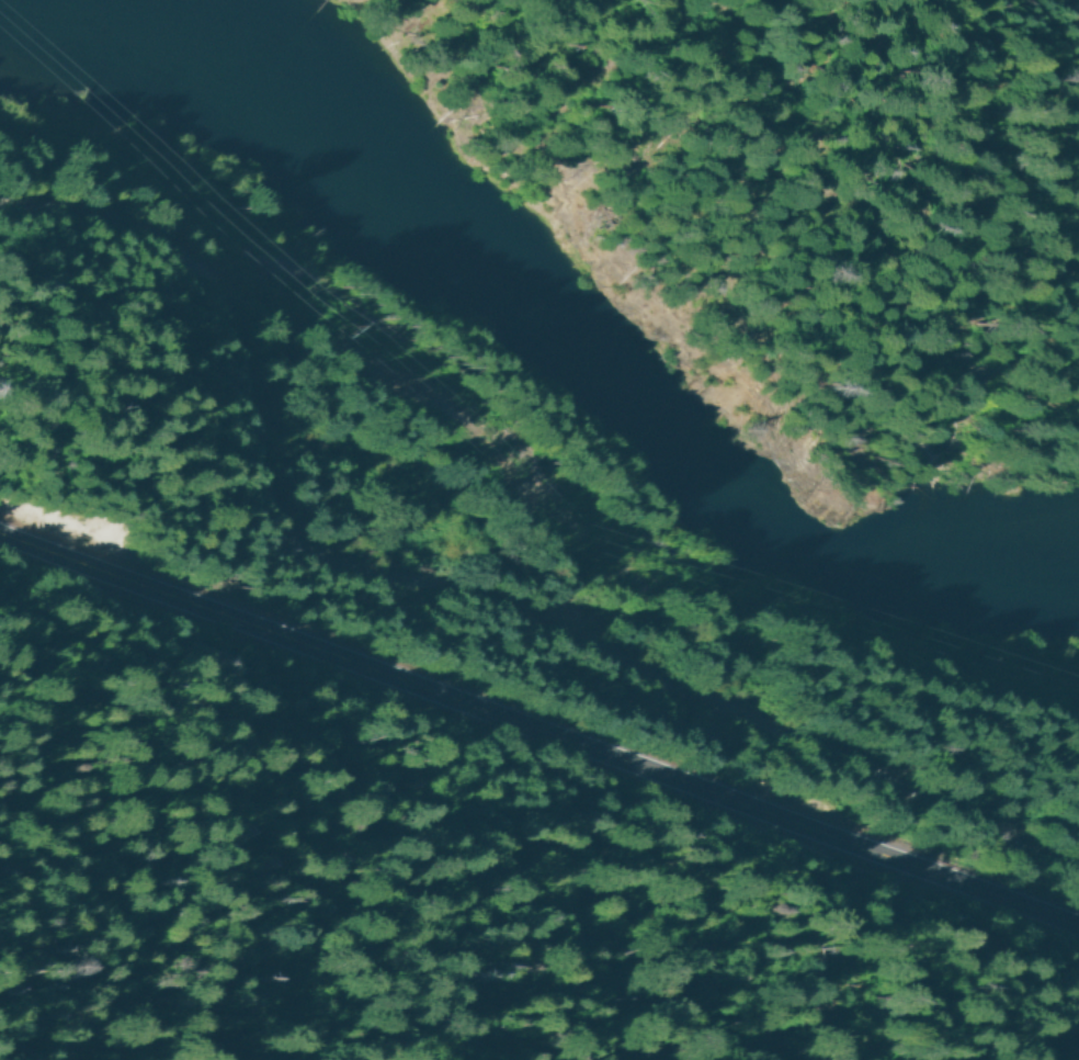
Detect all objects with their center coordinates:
road: (784, 214)
river: (545, 346)
road: (446, 612)
road: (538, 730)

